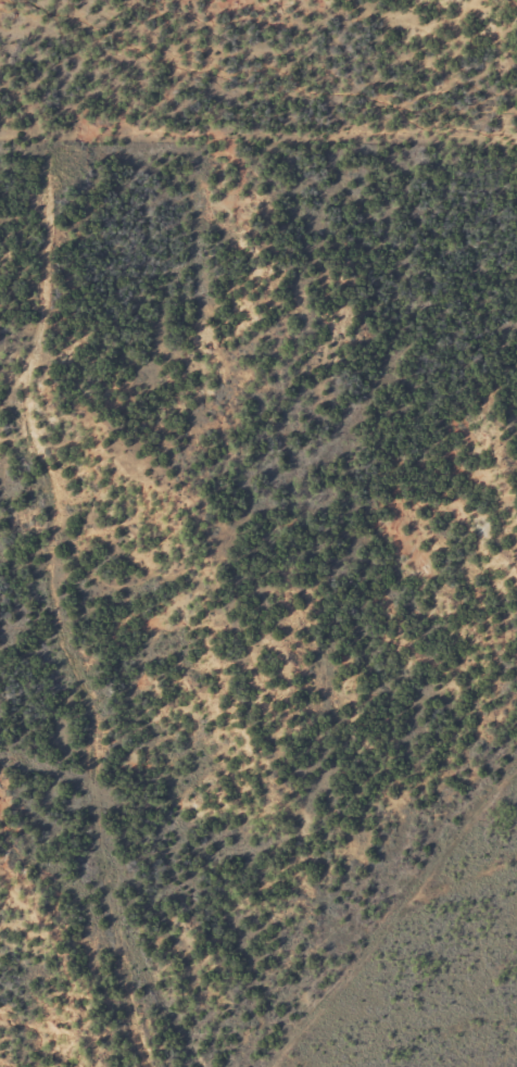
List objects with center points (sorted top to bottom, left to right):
road: (48, 743)

